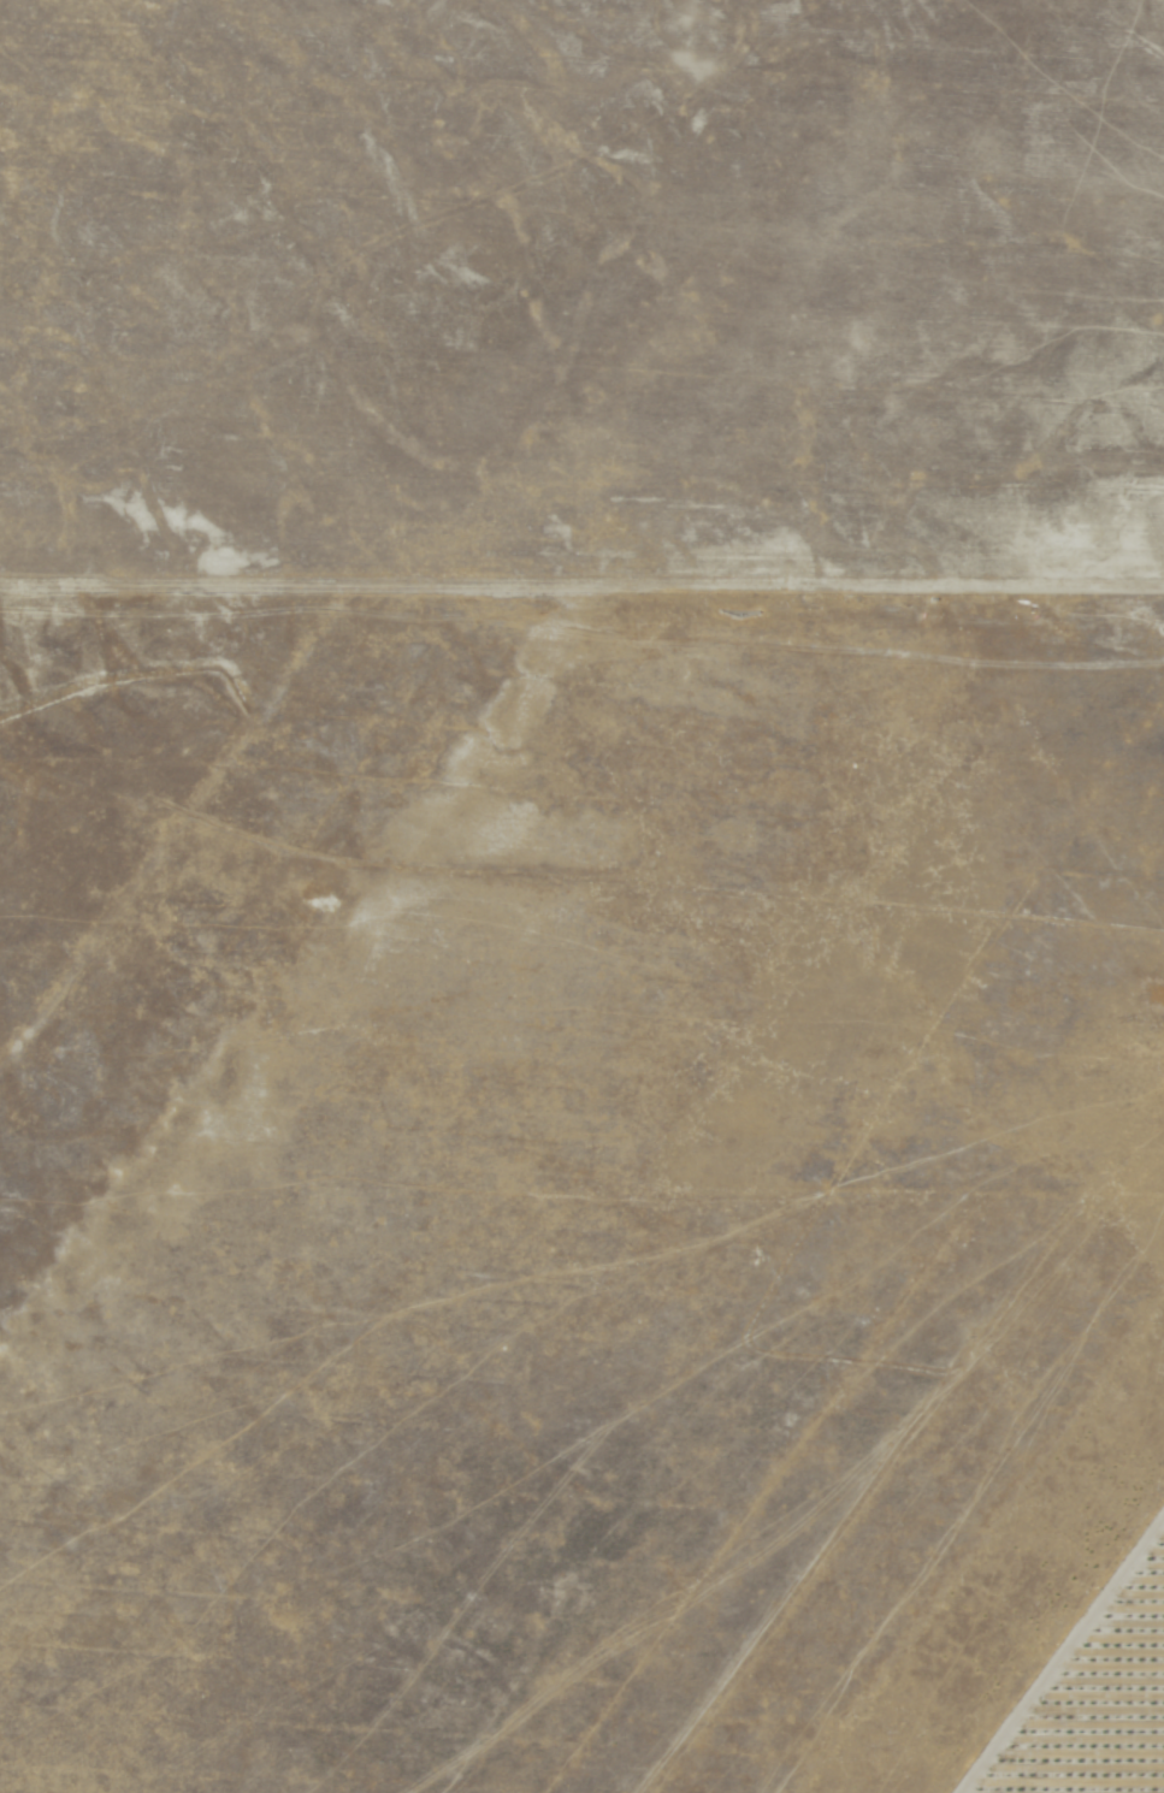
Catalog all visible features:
crop: (584, 284)
crop: (1101, 1709)

